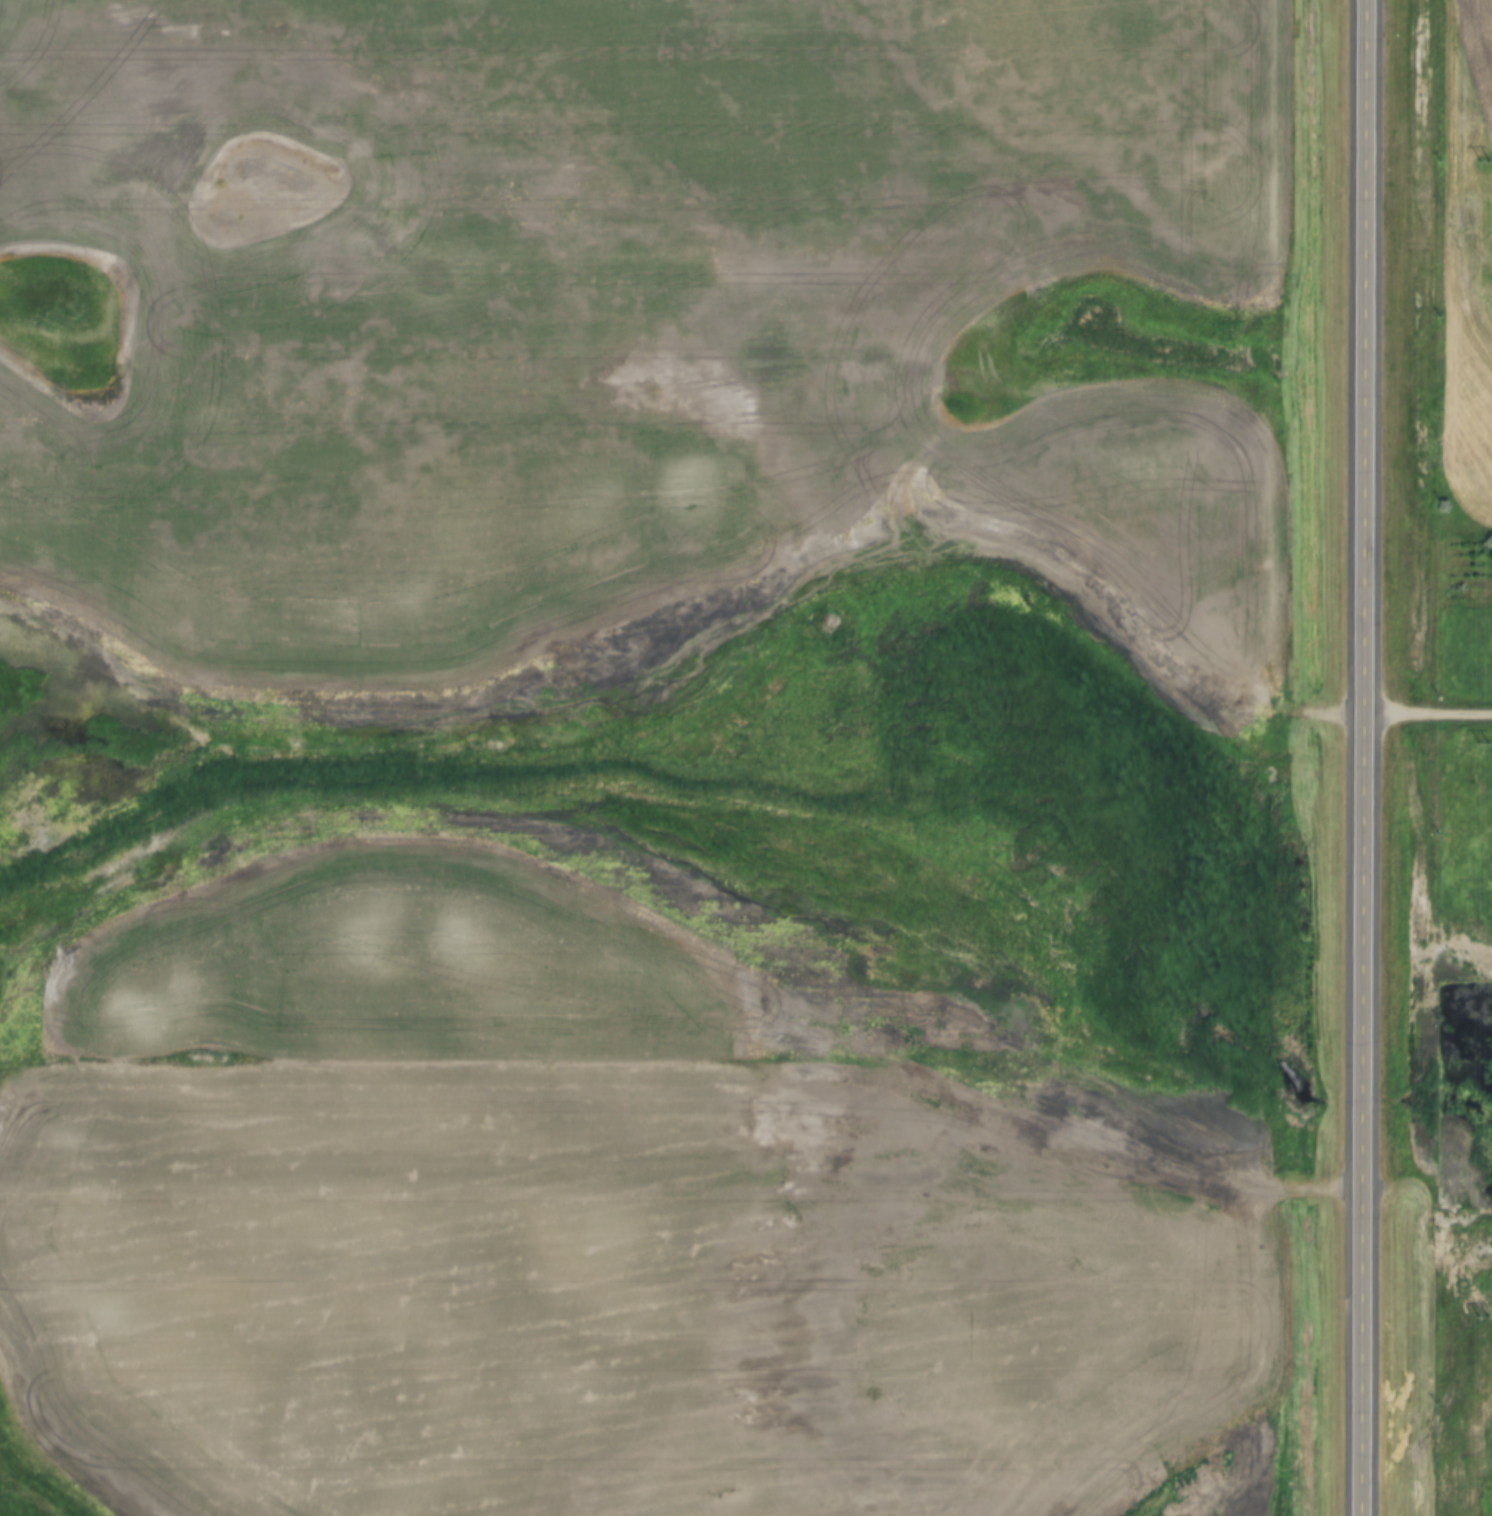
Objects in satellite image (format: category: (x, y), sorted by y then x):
power tower: (1482, 161)
road: (1430, 715)
power tower: (1482, 745)
road: (1367, 758)
power tower: (1480, 1317)

